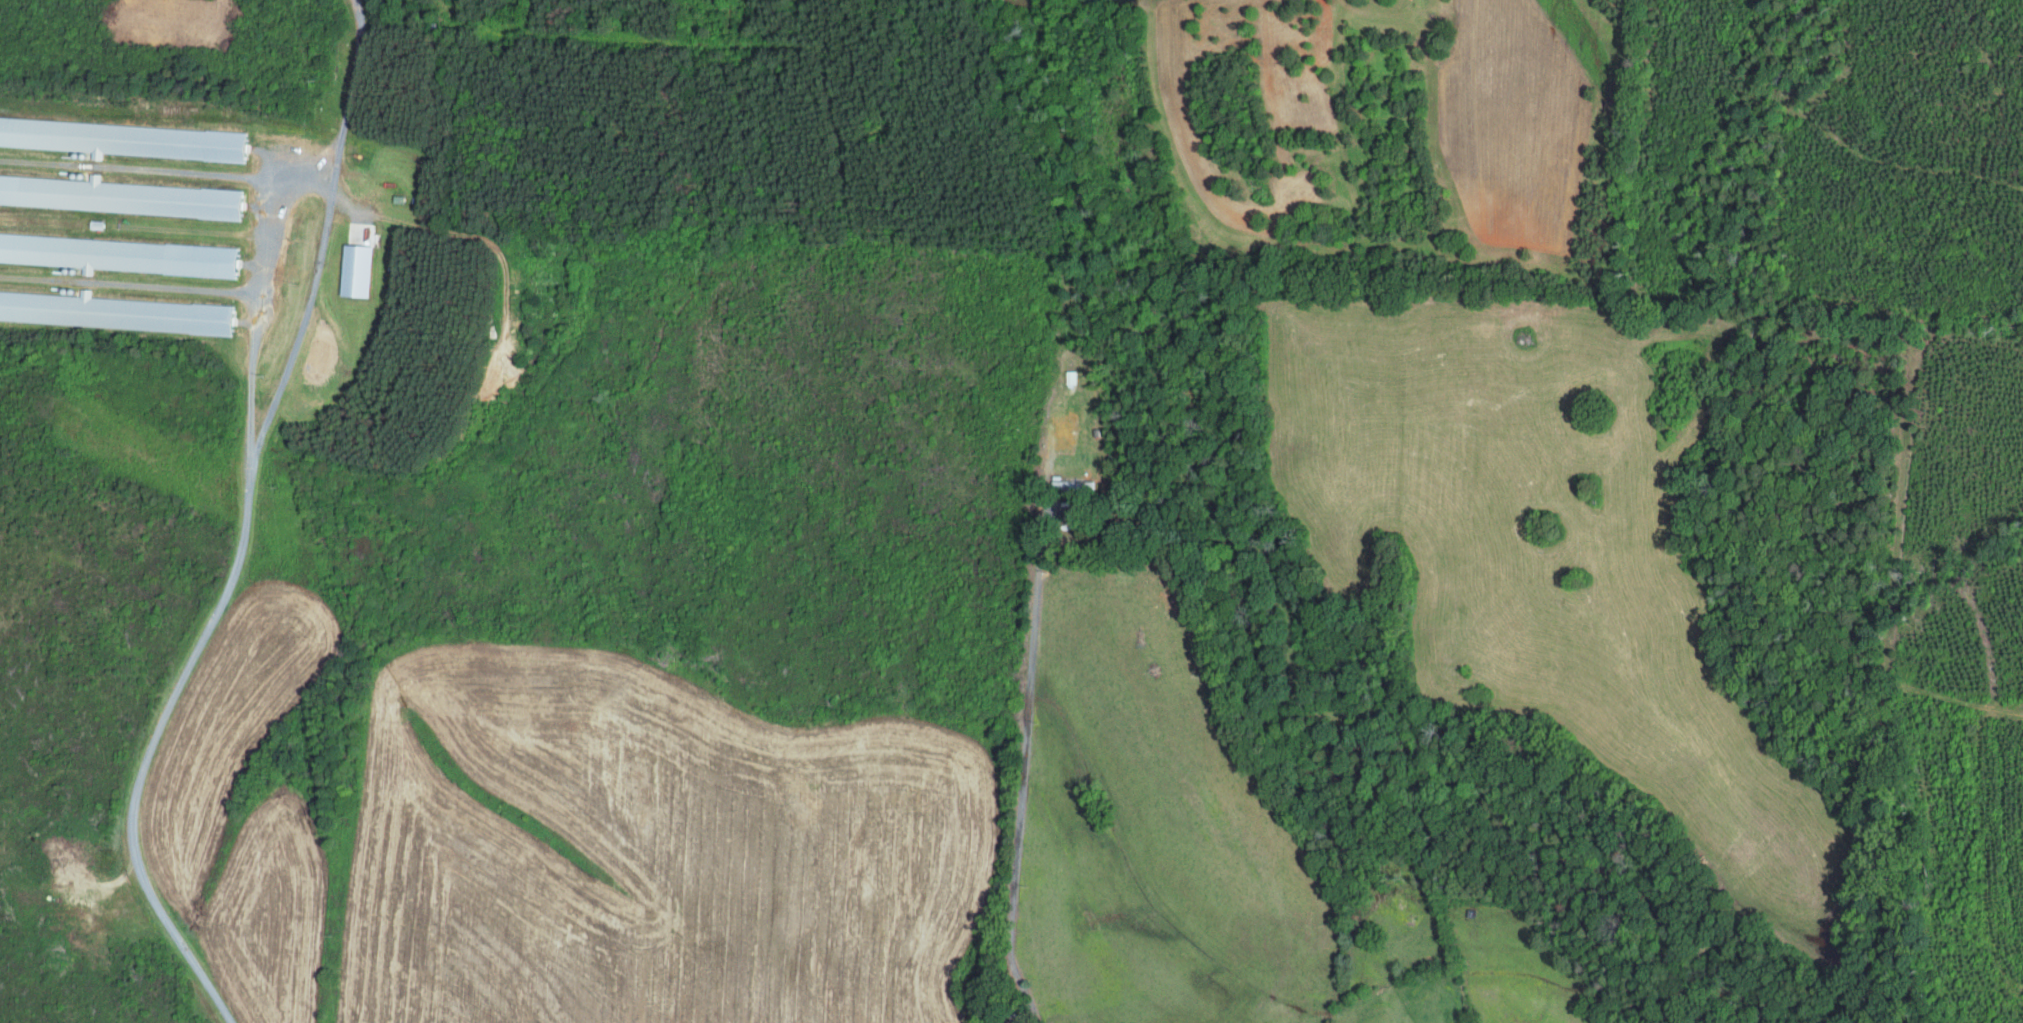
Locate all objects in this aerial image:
building: (122, 139)
building: (116, 195)
building: (119, 254)
building: (355, 270)
building: (113, 311)
building: (1069, 376)
building: (1071, 485)
road: (248, 529)
road: (1025, 759)
road: (1030, 1017)

